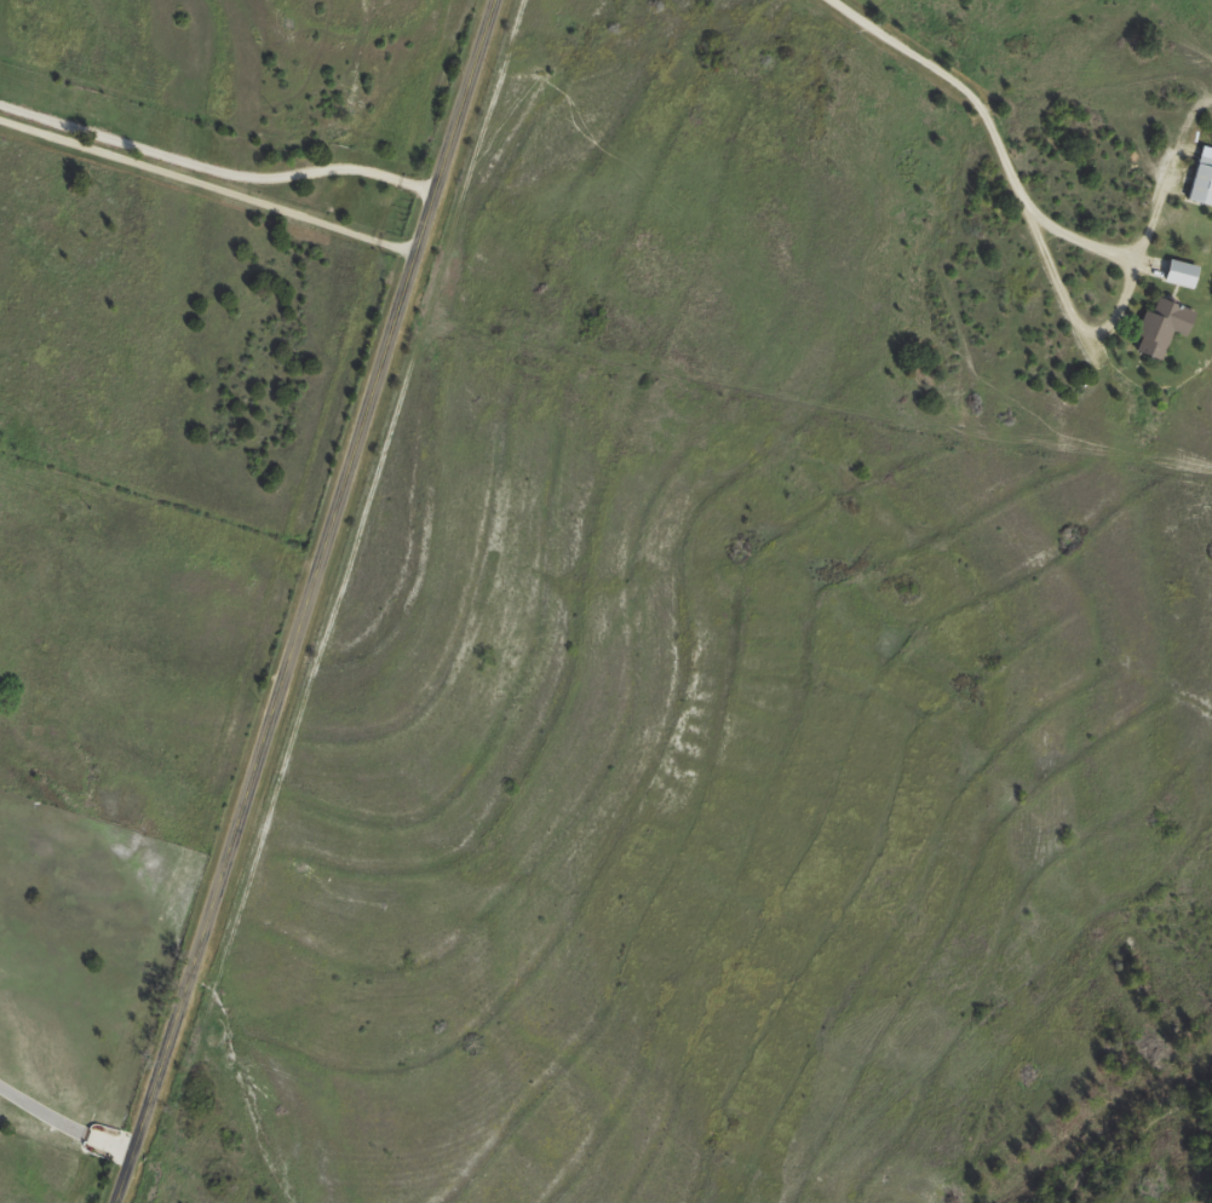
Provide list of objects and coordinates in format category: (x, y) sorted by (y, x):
road: (214, 169)
building: (1202, 182)
road: (206, 186)
road: (1030, 229)
road: (1081, 236)
building: (1182, 274)
building: (1164, 326)
road: (303, 601)
road: (63, 1124)

